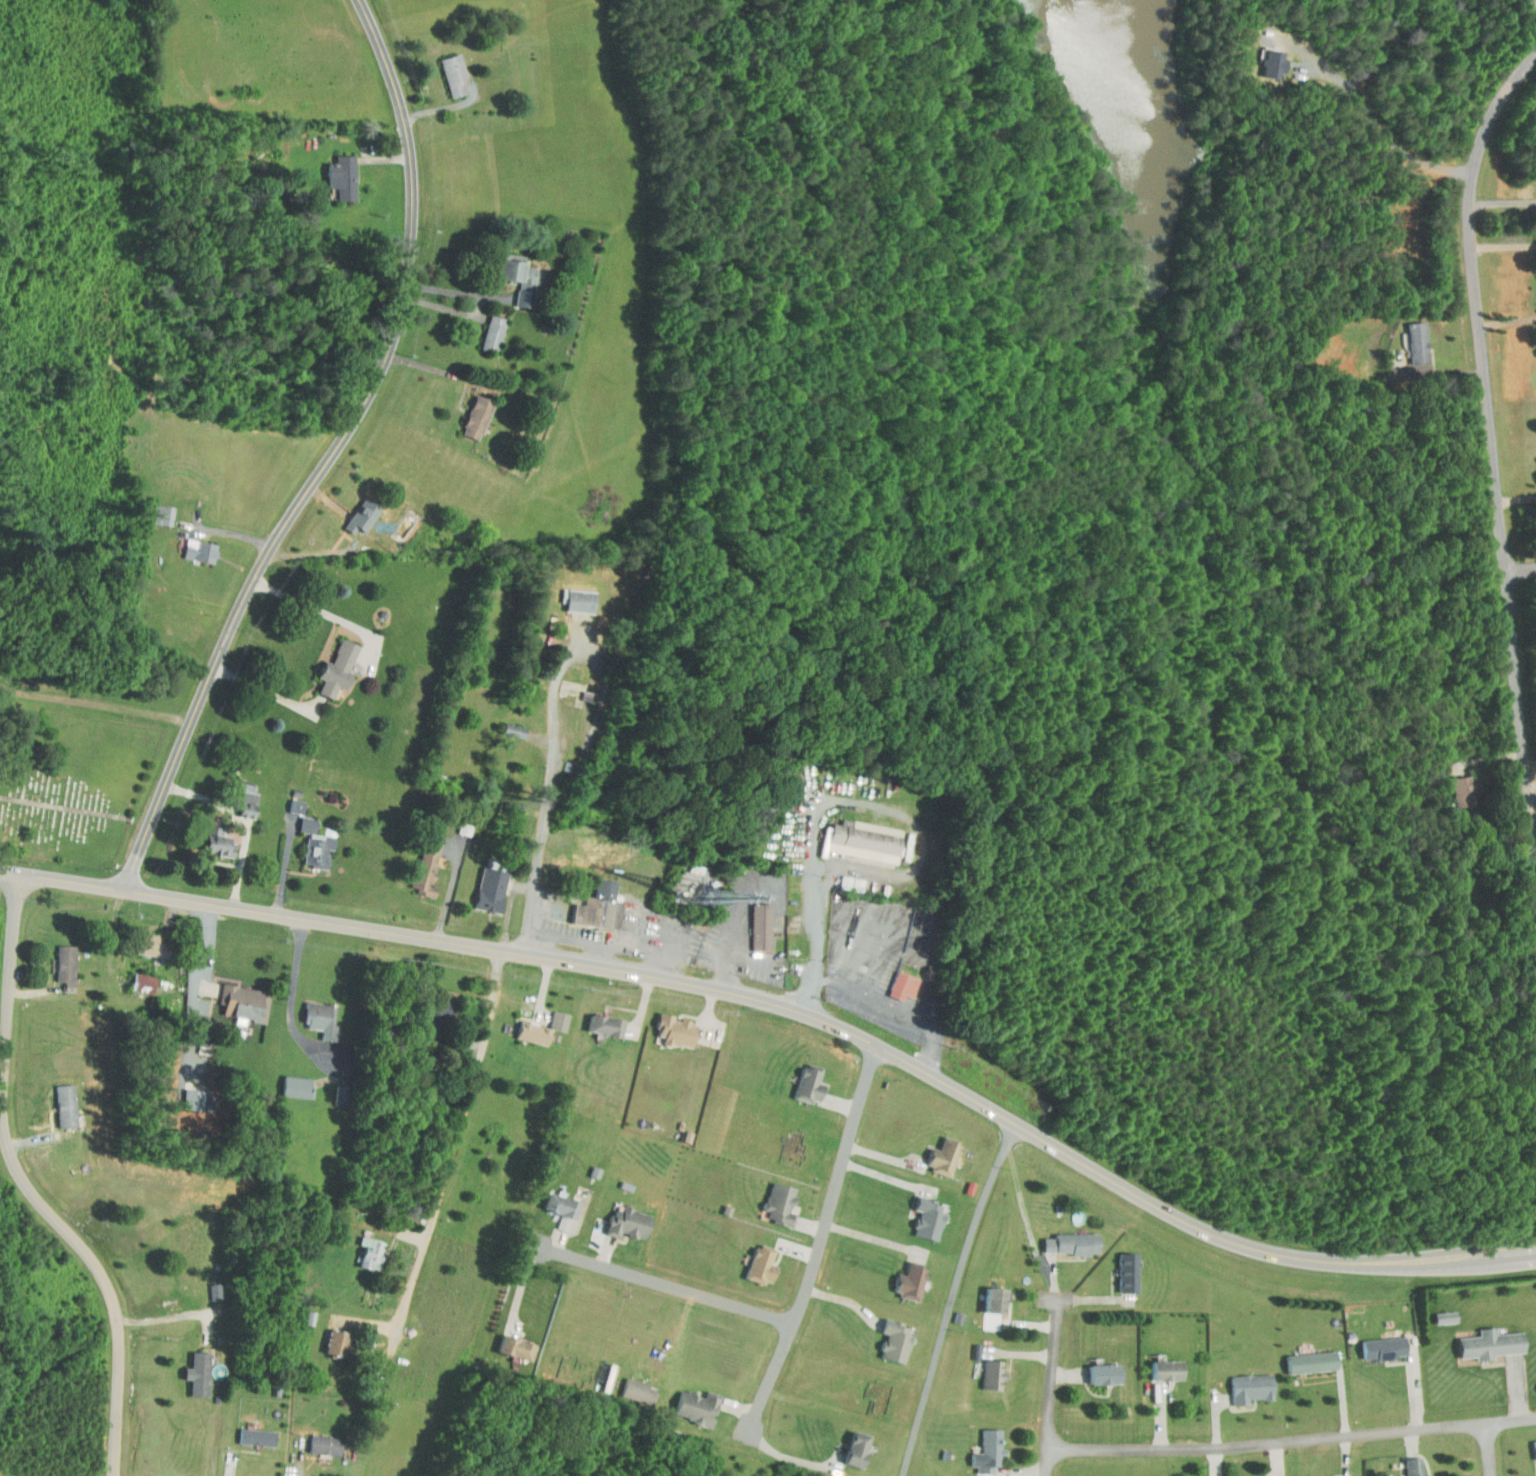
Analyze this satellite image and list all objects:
building: (1265, 56)
building: (445, 67)
road: (1375, 118)
building: (333, 170)
road: (1501, 200)
road: (1501, 246)
building: (512, 273)
road: (458, 292)
road: (1505, 312)
building: (484, 327)
building: (1408, 336)
road: (1432, 373)
building: (468, 411)
road: (333, 455)
road: (1490, 456)
road: (1515, 498)
building: (153, 508)
building: (354, 510)
building: (190, 544)
road: (1520, 572)
building: (571, 594)
road: (323, 611)
road: (589, 652)
building: (328, 662)
road: (266, 690)
building: (502, 724)
building: (1452, 785)
building: (239, 798)
road: (841, 799)
building: (298, 818)
building: (852, 835)
building: (210, 840)
building: (309, 844)
building: (419, 859)
road: (286, 866)
building: (843, 877)
building: (482, 883)
road: (536, 887)
building: (591, 902)
road: (875, 915)
building: (752, 920)
road: (736, 925)
building: (145, 939)
road: (608, 942)
road: (606, 955)
building: (57, 959)
road: (750, 961)
building: (134, 977)
building: (894, 980)
building: (233, 997)
road: (294, 997)
road: (896, 1010)
road: (791, 1011)
building: (312, 1015)
building: (550, 1015)
building: (597, 1019)
building: (666, 1025)
building: (524, 1027)
building: (800, 1079)
building: (287, 1081)
building: (56, 1100)
road: (452, 1144)
building: (936, 1150)
road: (889, 1176)
road: (30, 1185)
building: (771, 1198)
building: (553, 1204)
building: (919, 1213)
building: (620, 1216)
building: (1063, 1237)
road: (875, 1238)
road: (822, 1242)
building: (361, 1247)
building: (751, 1259)
building: (1119, 1267)
building: (901, 1276)
road: (667, 1283)
building: (207, 1286)
building: (987, 1295)
road: (958, 1297)
building: (1437, 1311)
road: (169, 1316)
building: (886, 1335)
building: (327, 1337)
building: (1482, 1338)
building: (507, 1342)
building: (1375, 1342)
building: (1303, 1356)
building: (1158, 1364)
building: (189, 1368)
building: (984, 1369)
building: (1096, 1369)
building: (1242, 1383)
building: (629, 1385)
road: (1053, 1387)
building: (688, 1402)
building: (247, 1431)
building: (316, 1439)
road: (1292, 1439)
building: (848, 1444)
building: (1531, 1445)
building: (979, 1446)
road: (1489, 1449)
road: (793, 1458)
building: (1406, 1464)
building: (1312, 1475)

